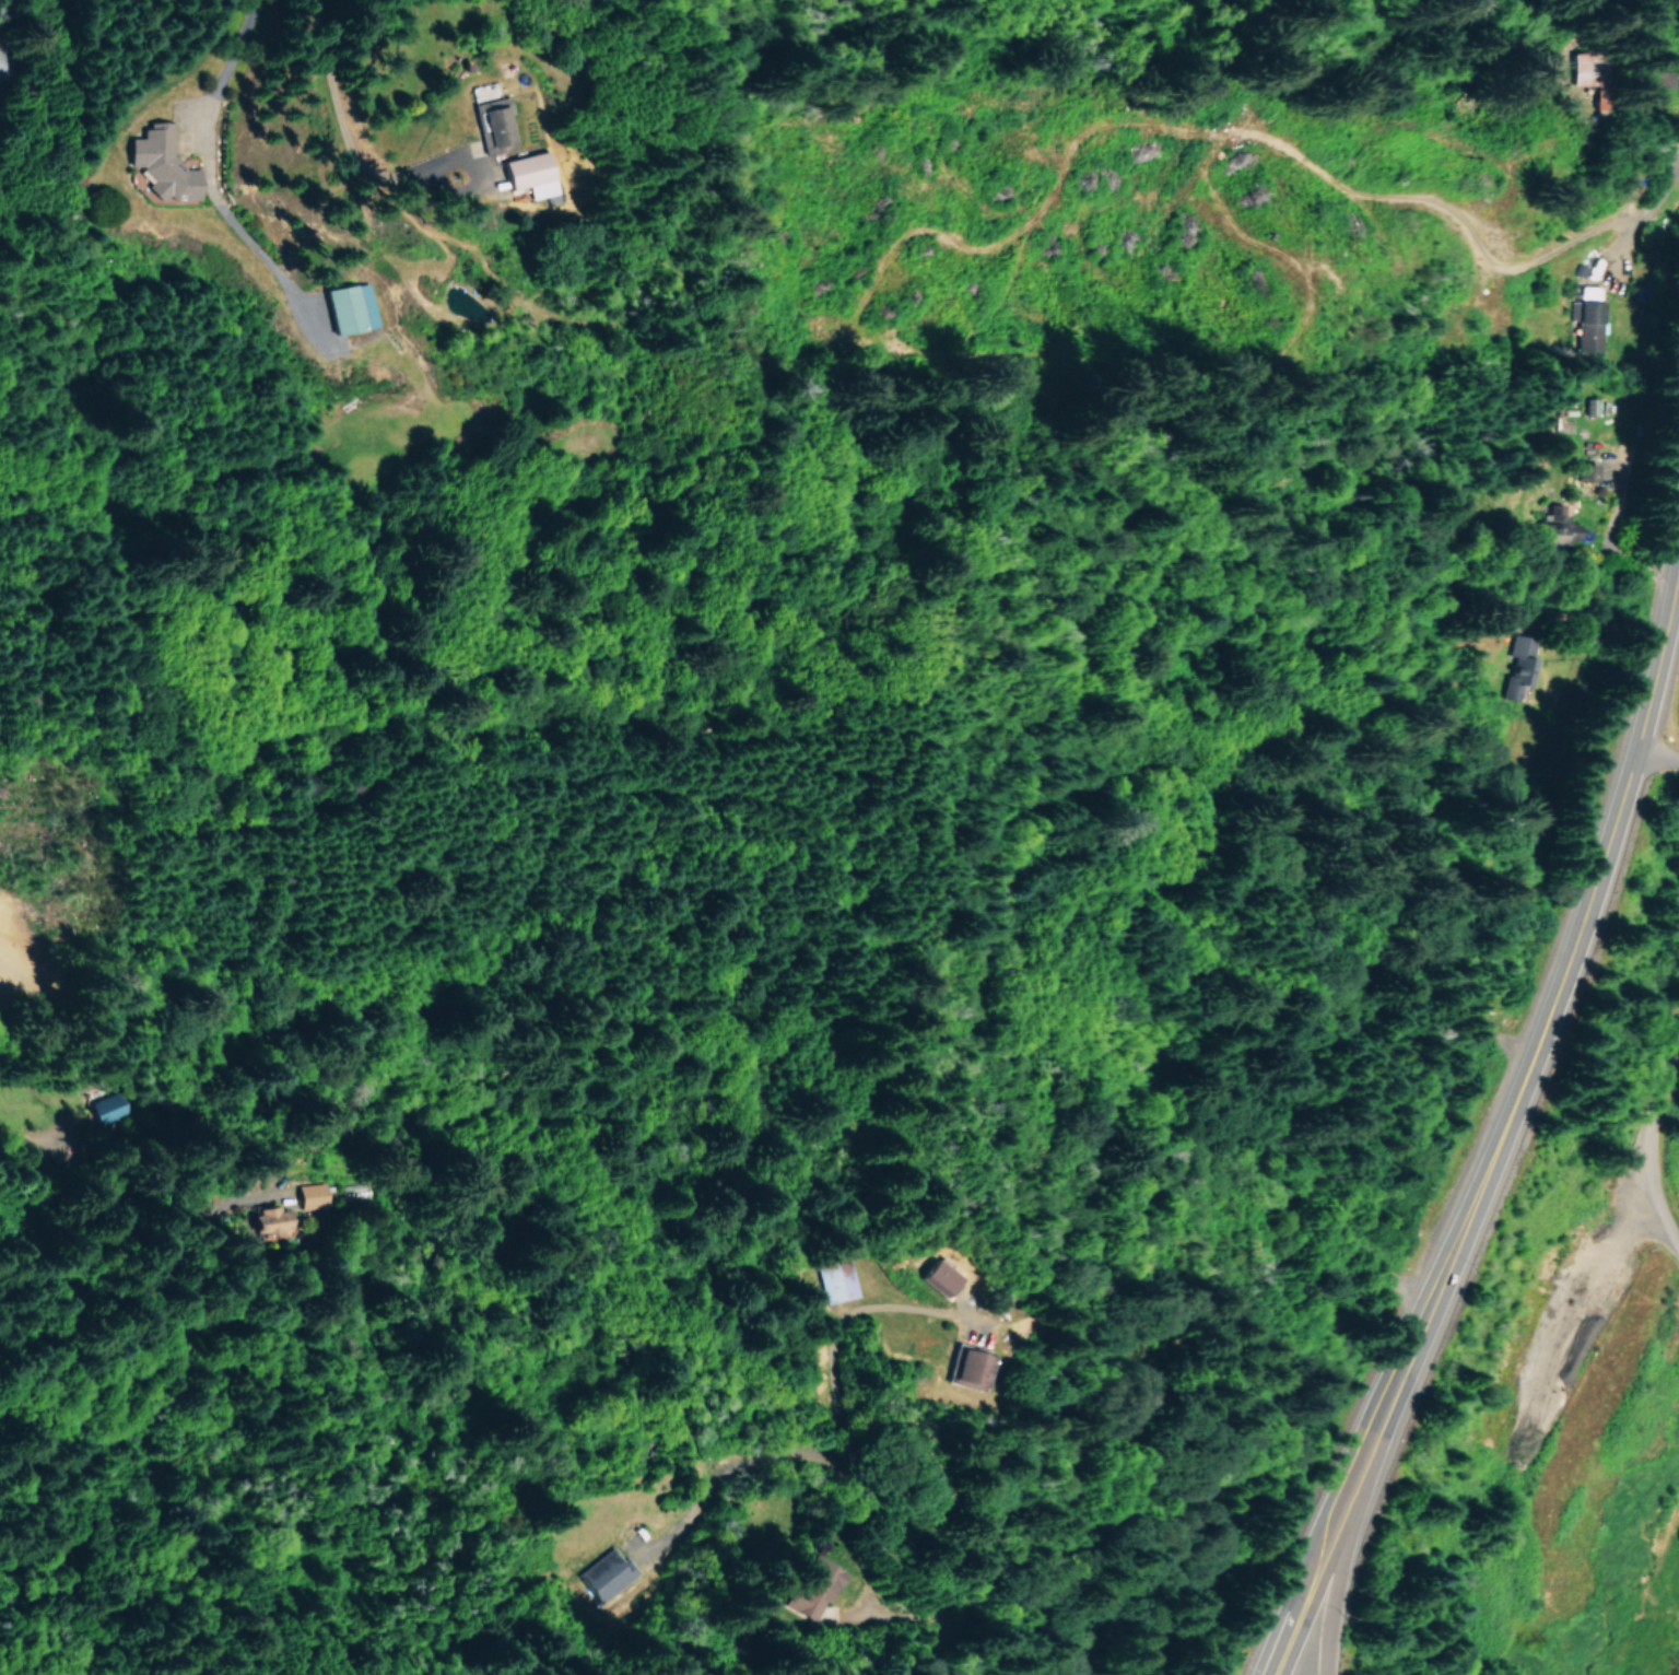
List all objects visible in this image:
building: (1583, 67)
building: (492, 122)
building: (160, 162)
building: (528, 172)
building: (350, 307)
building: (1599, 406)
building: (1589, 475)
building: (1555, 528)
road: (1656, 661)
building: (1518, 669)
road: (1656, 757)
building: (105, 1106)
road: (1651, 1143)
building: (310, 1194)
road: (1465, 1218)
building: (269, 1222)
building: (936, 1276)
building: (835, 1278)
road: (14, 1289)
building: (964, 1367)
building: (604, 1574)
building: (812, 1585)
road: (1332, 1593)
building: (758, 1602)

